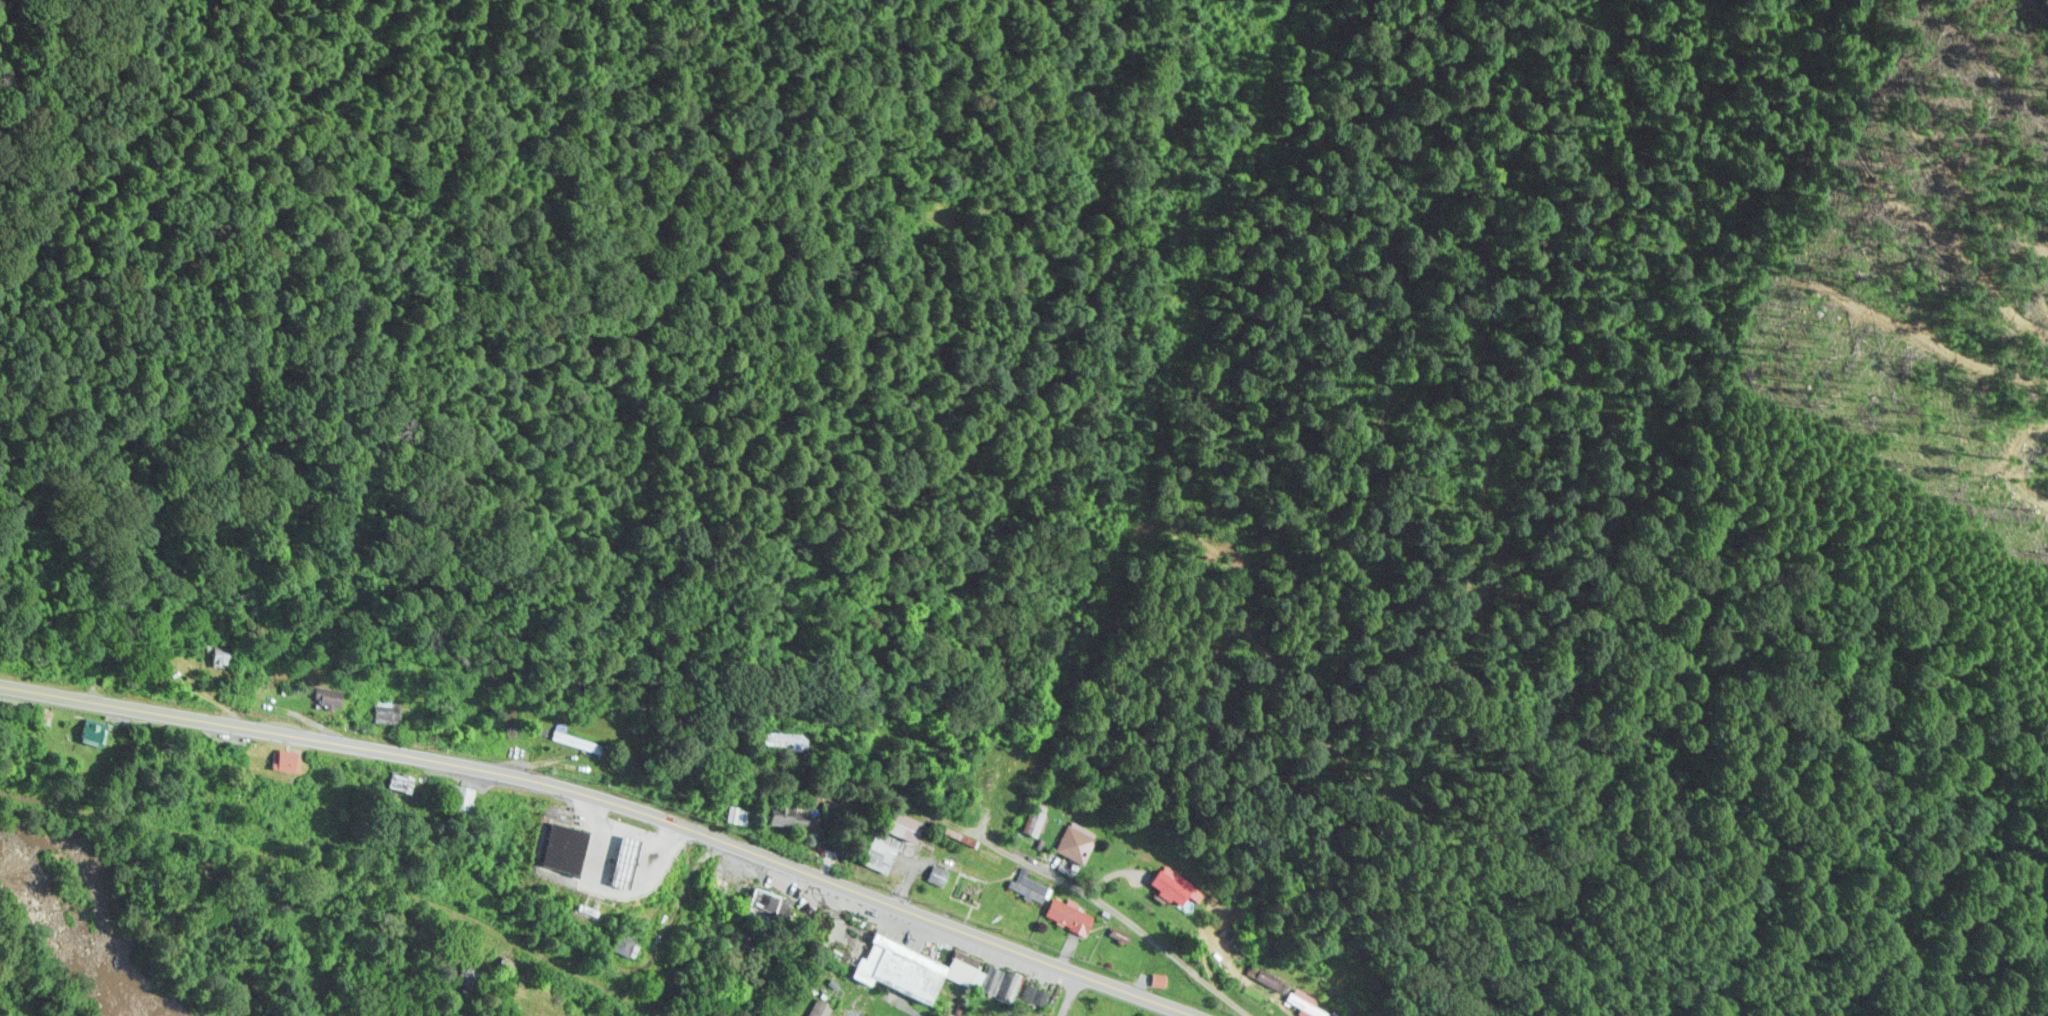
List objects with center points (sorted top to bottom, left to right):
building: (213, 653)
building: (324, 696)
building: (382, 709)
building: (34, 714)
building: (84, 730)
building: (573, 740)
building: (278, 759)
road: (617, 796)
building: (455, 799)
road: (973, 826)
building: (1074, 841)
building: (553, 843)
building: (877, 849)
road: (343, 871)
building: (1026, 884)
building: (1173, 884)
building: (755, 904)
building: (1066, 914)
building: (622, 942)
building: (924, 970)
building: (1263, 976)
river: (38, 979)
road: (1070, 993)
road: (849, 996)
building: (1301, 1002)
building: (819, 1008)

